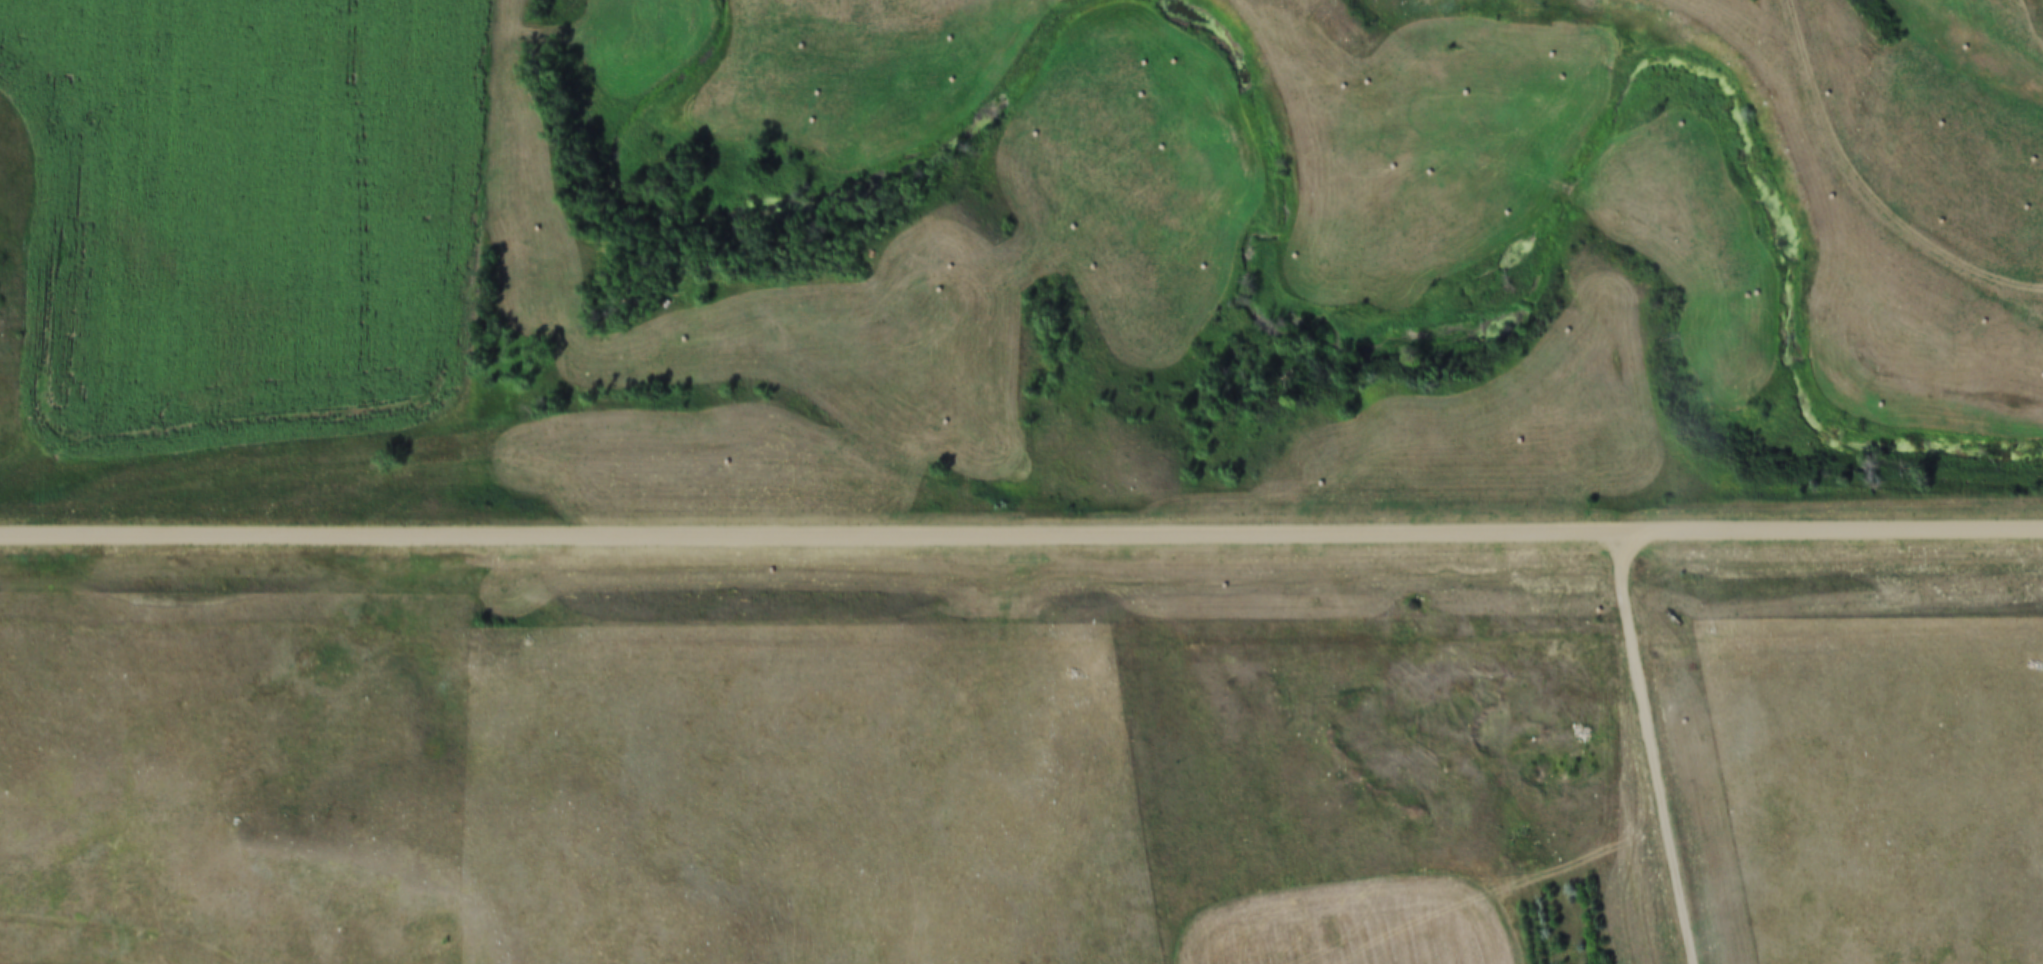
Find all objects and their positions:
road: (1865, 190)
road: (121, 267)
road: (1021, 526)
road: (1654, 743)

